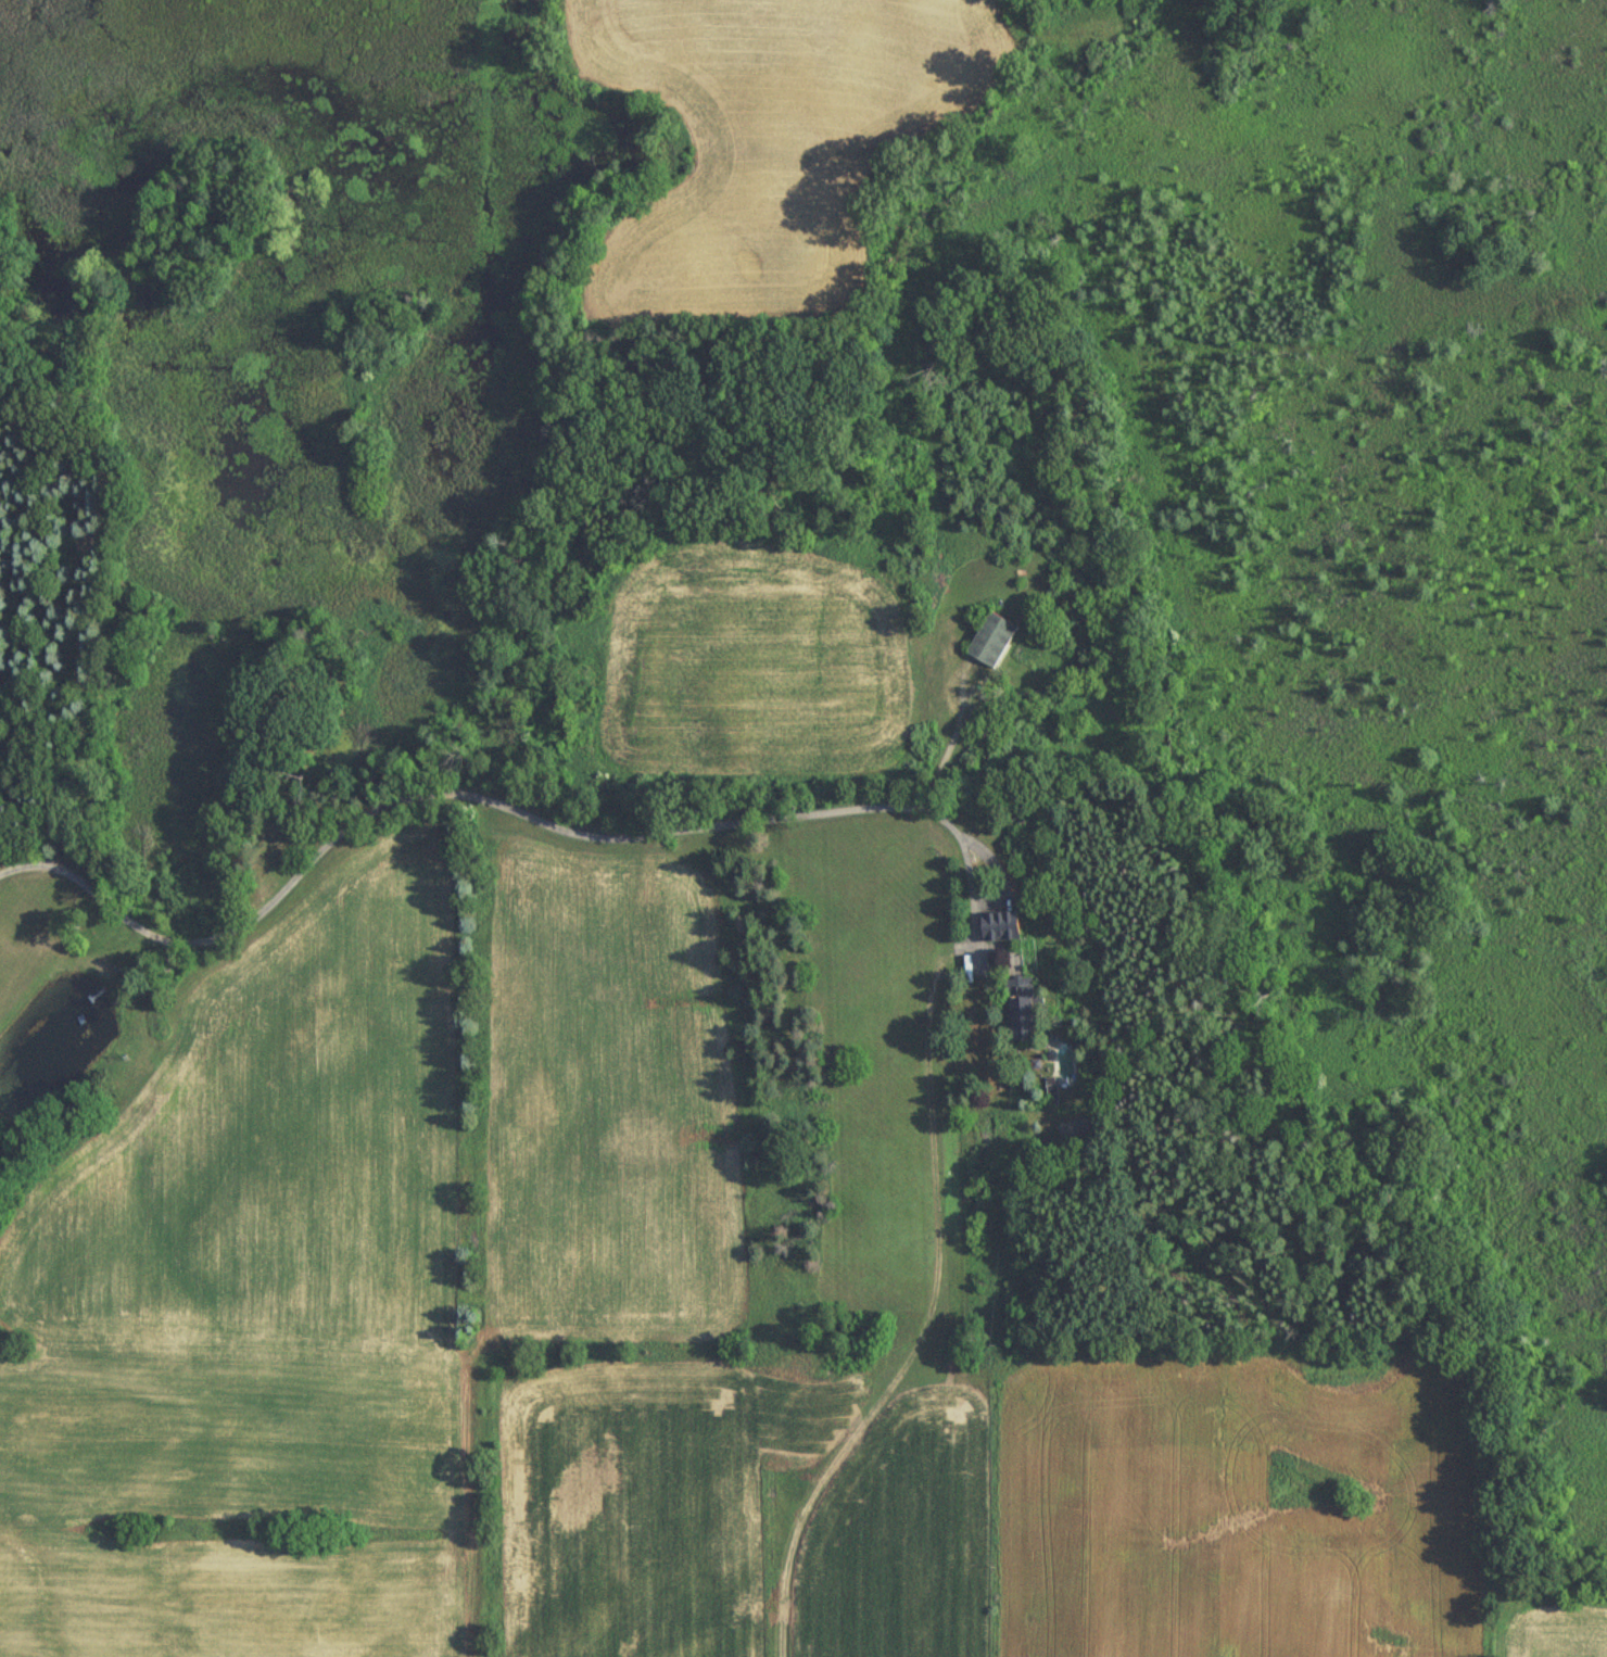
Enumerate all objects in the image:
crop: (770, 132)
building: (983, 646)
crop: (746, 669)
road: (949, 743)
road: (426, 794)
road: (992, 877)
road: (966, 880)
building: (995, 924)
building: (1012, 1009)
crop: (606, 1102)
crop: (253, 1307)
road: (926, 1314)
crop: (646, 1504)
airport runway: (1099, 1514)
crop: (1222, 1517)
crop: (897, 1540)
crop: (1554, 1636)

